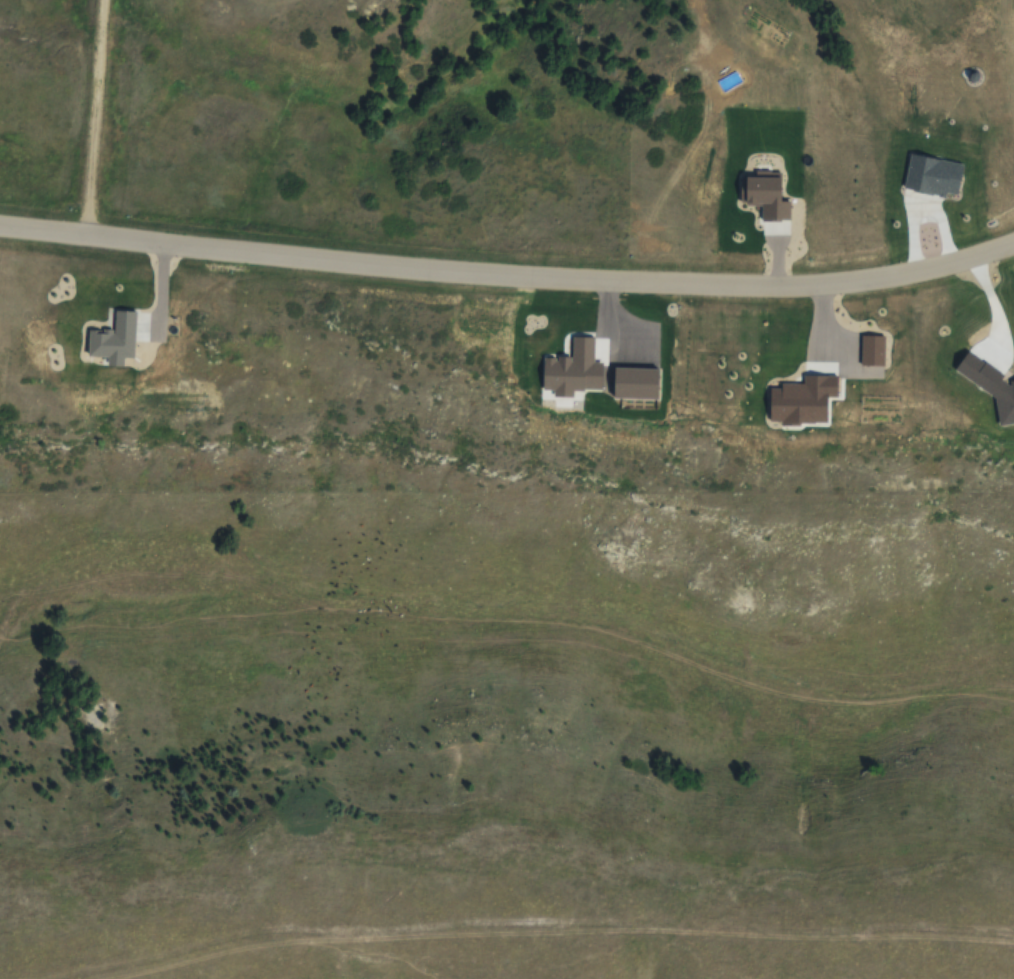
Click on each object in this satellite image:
road: (509, 271)

